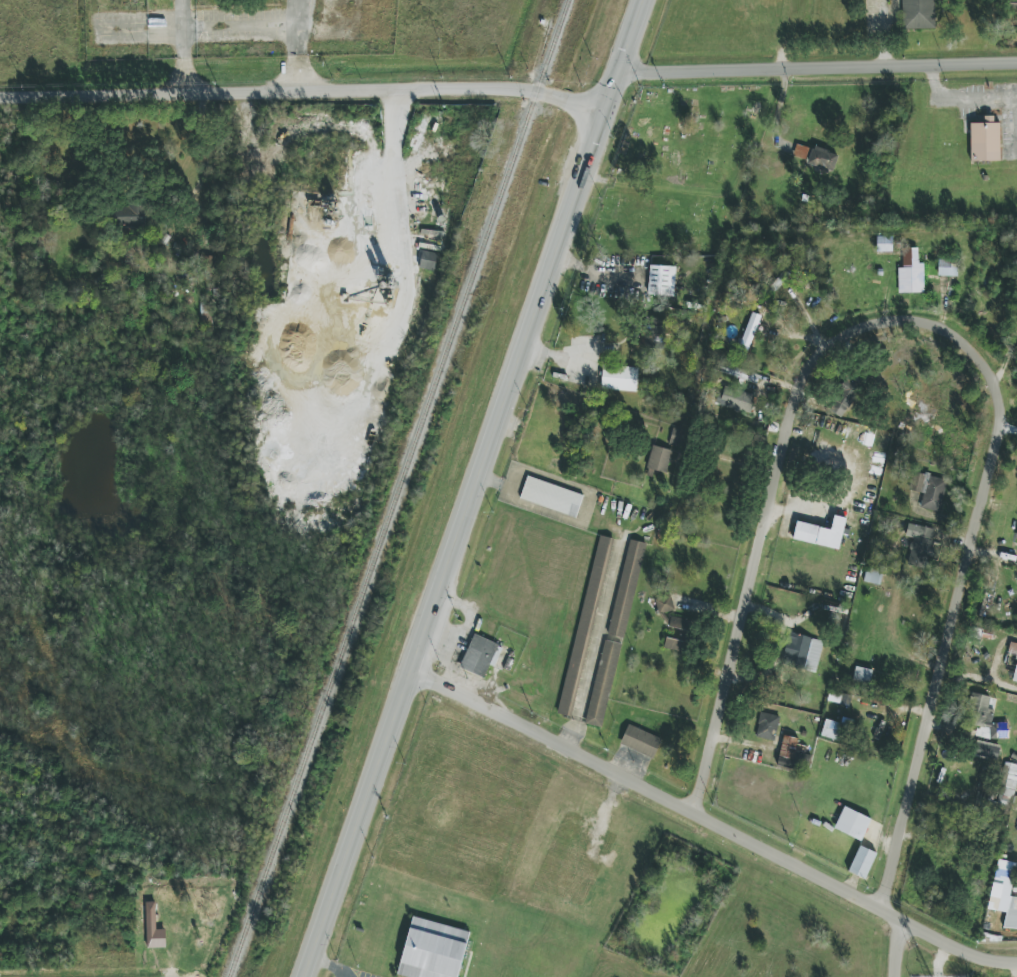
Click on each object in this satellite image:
building: (1013, 11)
building: (918, 14)
road: (883, 32)
road: (817, 66)
road: (303, 93)
building: (985, 140)
building: (822, 159)
road: (394, 169)
park: (681, 170)
building: (132, 215)
building: (427, 260)
building: (947, 268)
building: (911, 273)
building: (661, 280)
building: (779, 280)
building: (749, 332)
building: (738, 373)
building: (619, 378)
building: (844, 398)
building: (737, 400)
building: (659, 459)
road: (778, 480)
railway: (397, 487)
road: (476, 489)
building: (929, 491)
building: (551, 497)
building: (818, 535)
building: (1016, 539)
building: (920, 545)
building: (664, 604)
road: (955, 622)
building: (682, 626)
building: (615, 633)
building: (675, 645)
building: (1012, 648)
building: (802, 652)
building: (480, 656)
building: (1015, 674)
building: (862, 675)
building: (840, 698)
building: (983, 718)
building: (767, 726)
building: (832, 730)
road: (552, 740)
building: (640, 741)
building: (987, 750)
building: (788, 752)
building: (1008, 780)
building: (852, 824)
building: (862, 862)
road: (837, 886)
building: (1004, 893)
building: (154, 929)
road: (894, 947)
building: (432, 950)
road: (998, 960)

